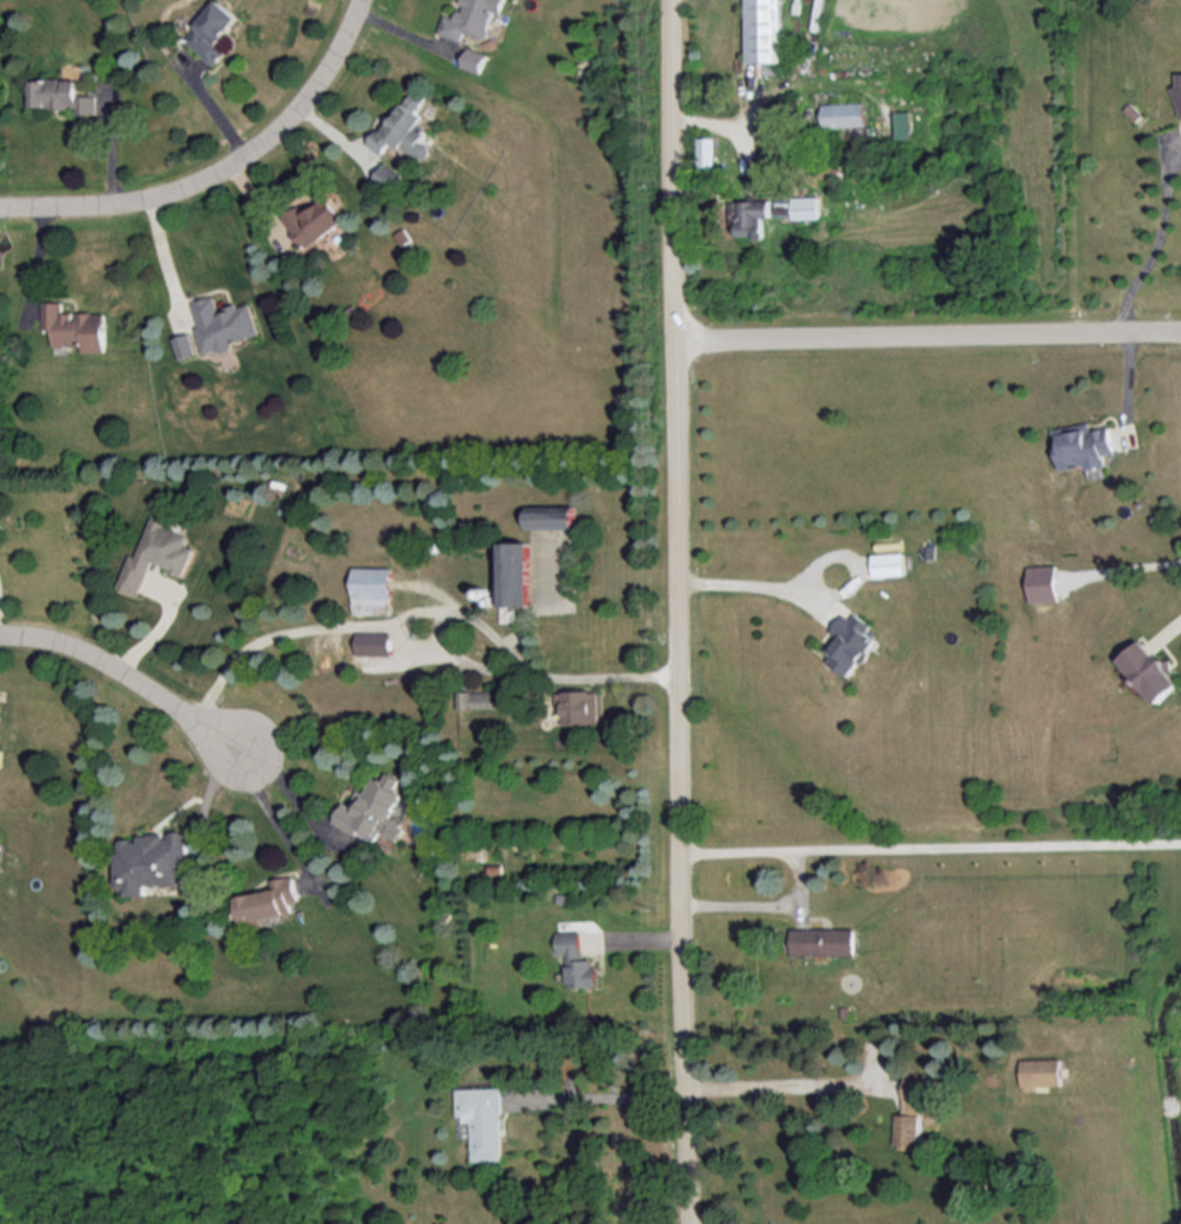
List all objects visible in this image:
building: (469, 18)
building: (212, 30)
building: (766, 30)
building: (473, 59)
building: (1177, 91)
building: (59, 94)
building: (847, 113)
building: (904, 123)
building: (404, 127)
building: (708, 150)
road: (221, 173)
building: (388, 174)
building: (785, 207)
building: (807, 207)
building: (753, 215)
building: (314, 220)
road: (1157, 236)
building: (222, 322)
building: (76, 326)
road: (928, 333)
building: (184, 344)
building: (1082, 445)
building: (551, 516)
building: (156, 553)
building: (889, 563)
building: (515, 572)
building: (1041, 582)
road: (750, 584)
building: (373, 588)
road: (431, 611)
road: (679, 612)
building: (374, 641)
building: (848, 641)
road: (467, 659)
building: (1151, 670)
road: (135, 676)
building: (481, 699)
building: (580, 706)
road: (301, 801)
building: (375, 809)
road: (284, 824)
road: (932, 846)
building: (150, 860)
building: (269, 899)
road: (768, 902)
building: (825, 940)
building: (577, 959)
building: (1041, 1070)
road: (784, 1087)
road: (603, 1095)
building: (912, 1111)
building: (482, 1119)

